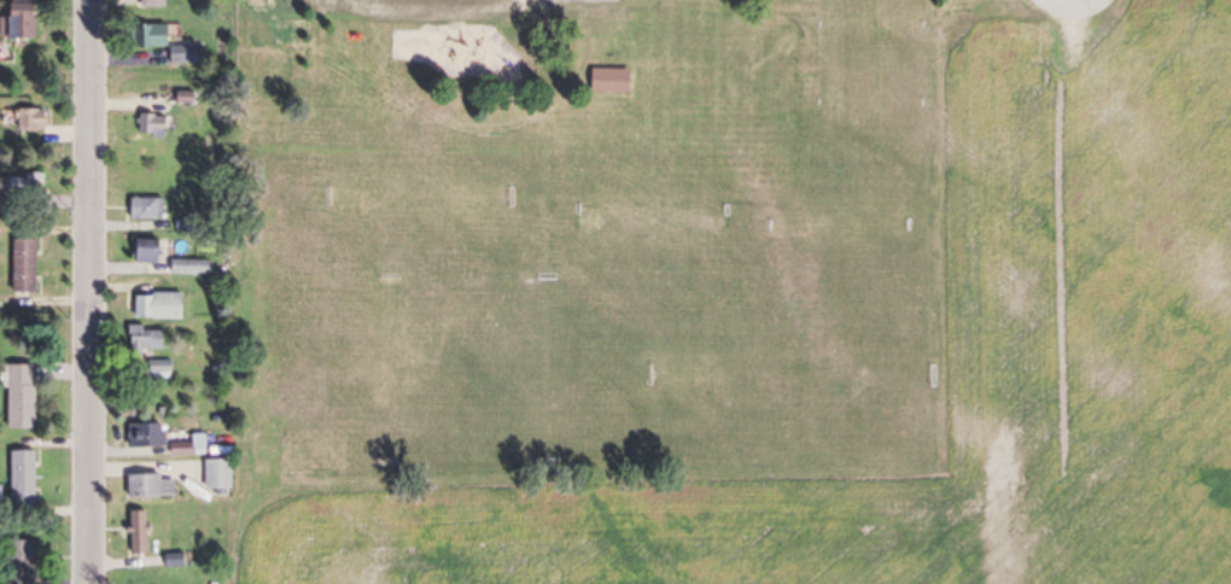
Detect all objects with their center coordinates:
building: (257, 1)
building: (153, 4)
building: (17, 19)
building: (145, 36)
building: (179, 56)
building: (608, 81)
building: (27, 119)
building: (148, 125)
building: (30, 185)
building: (142, 209)
building: (145, 252)
building: (21, 267)
building: (188, 269)
road: (89, 292)
building: (156, 308)
building: (145, 341)
building: (18, 397)
building: (139, 437)
building: (215, 475)
building: (21, 479)
building: (148, 487)
building: (138, 533)
crop: (739, 535)
building: (18, 562)

